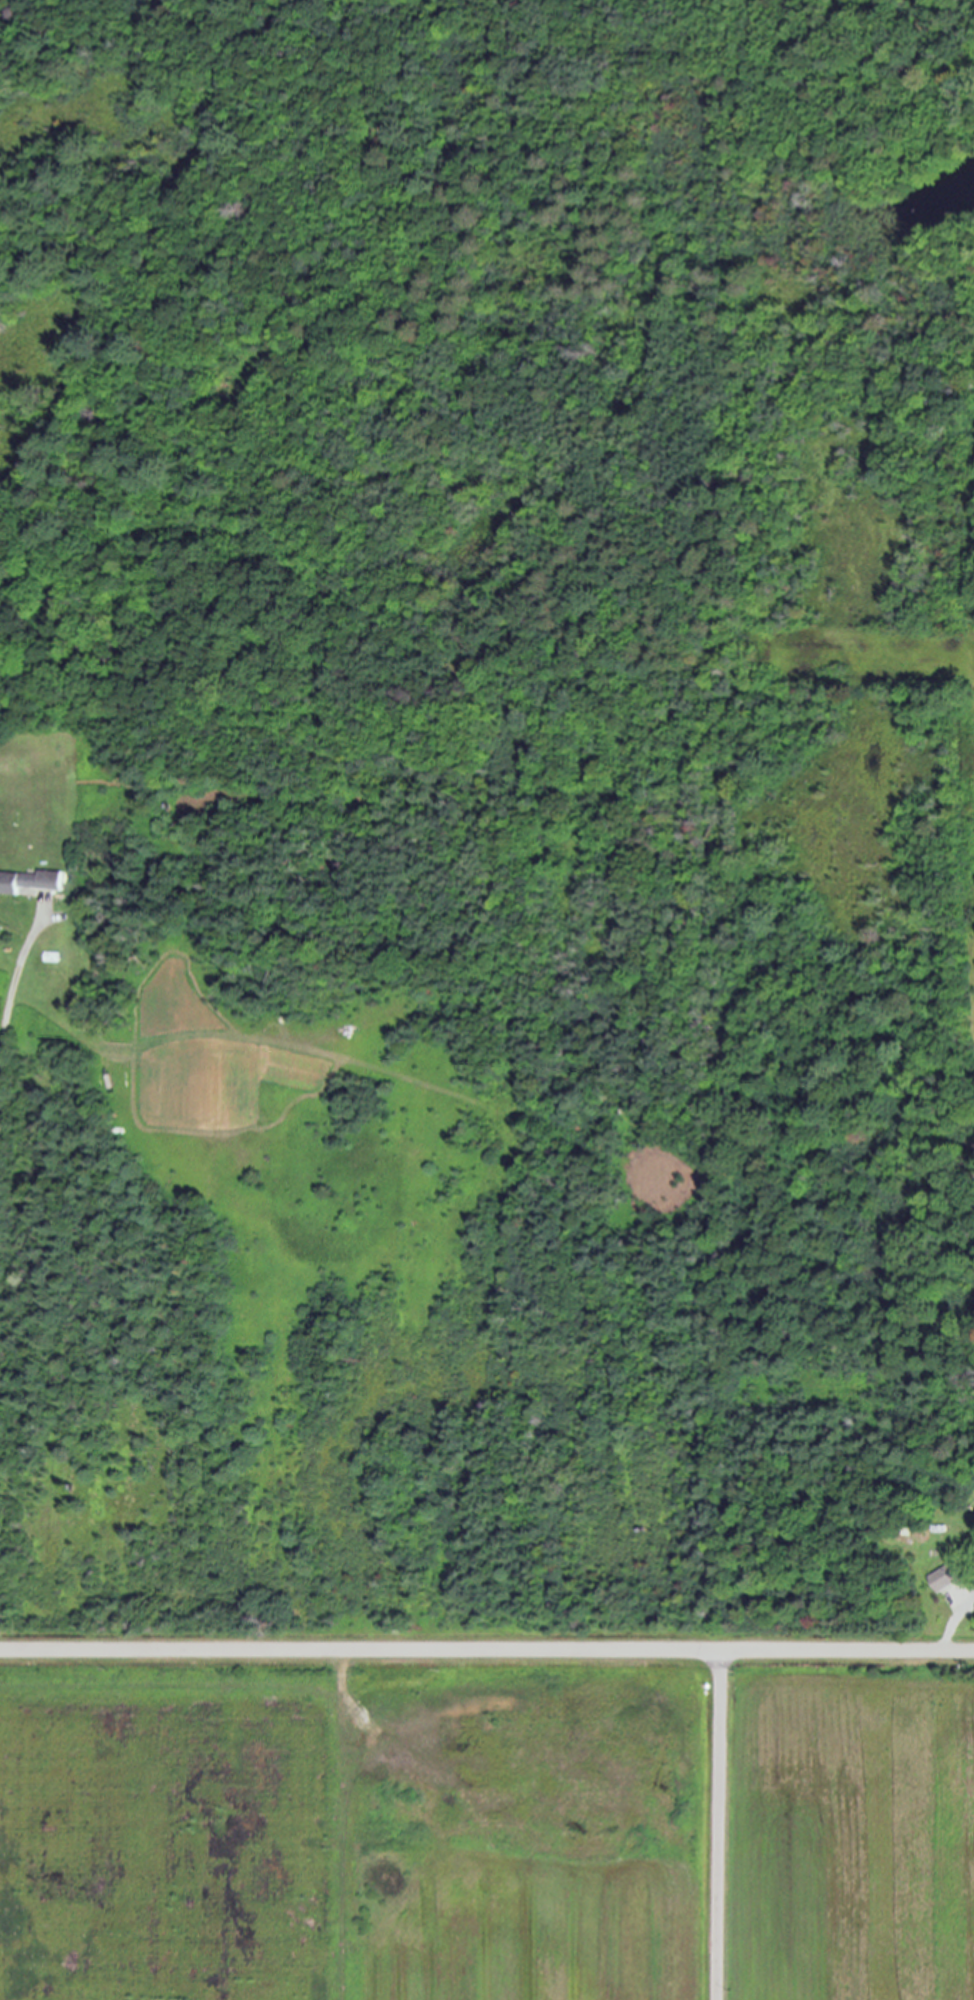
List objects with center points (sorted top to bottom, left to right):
building: (31, 881)
road: (9, 995)
road: (487, 1648)
road: (719, 1824)

